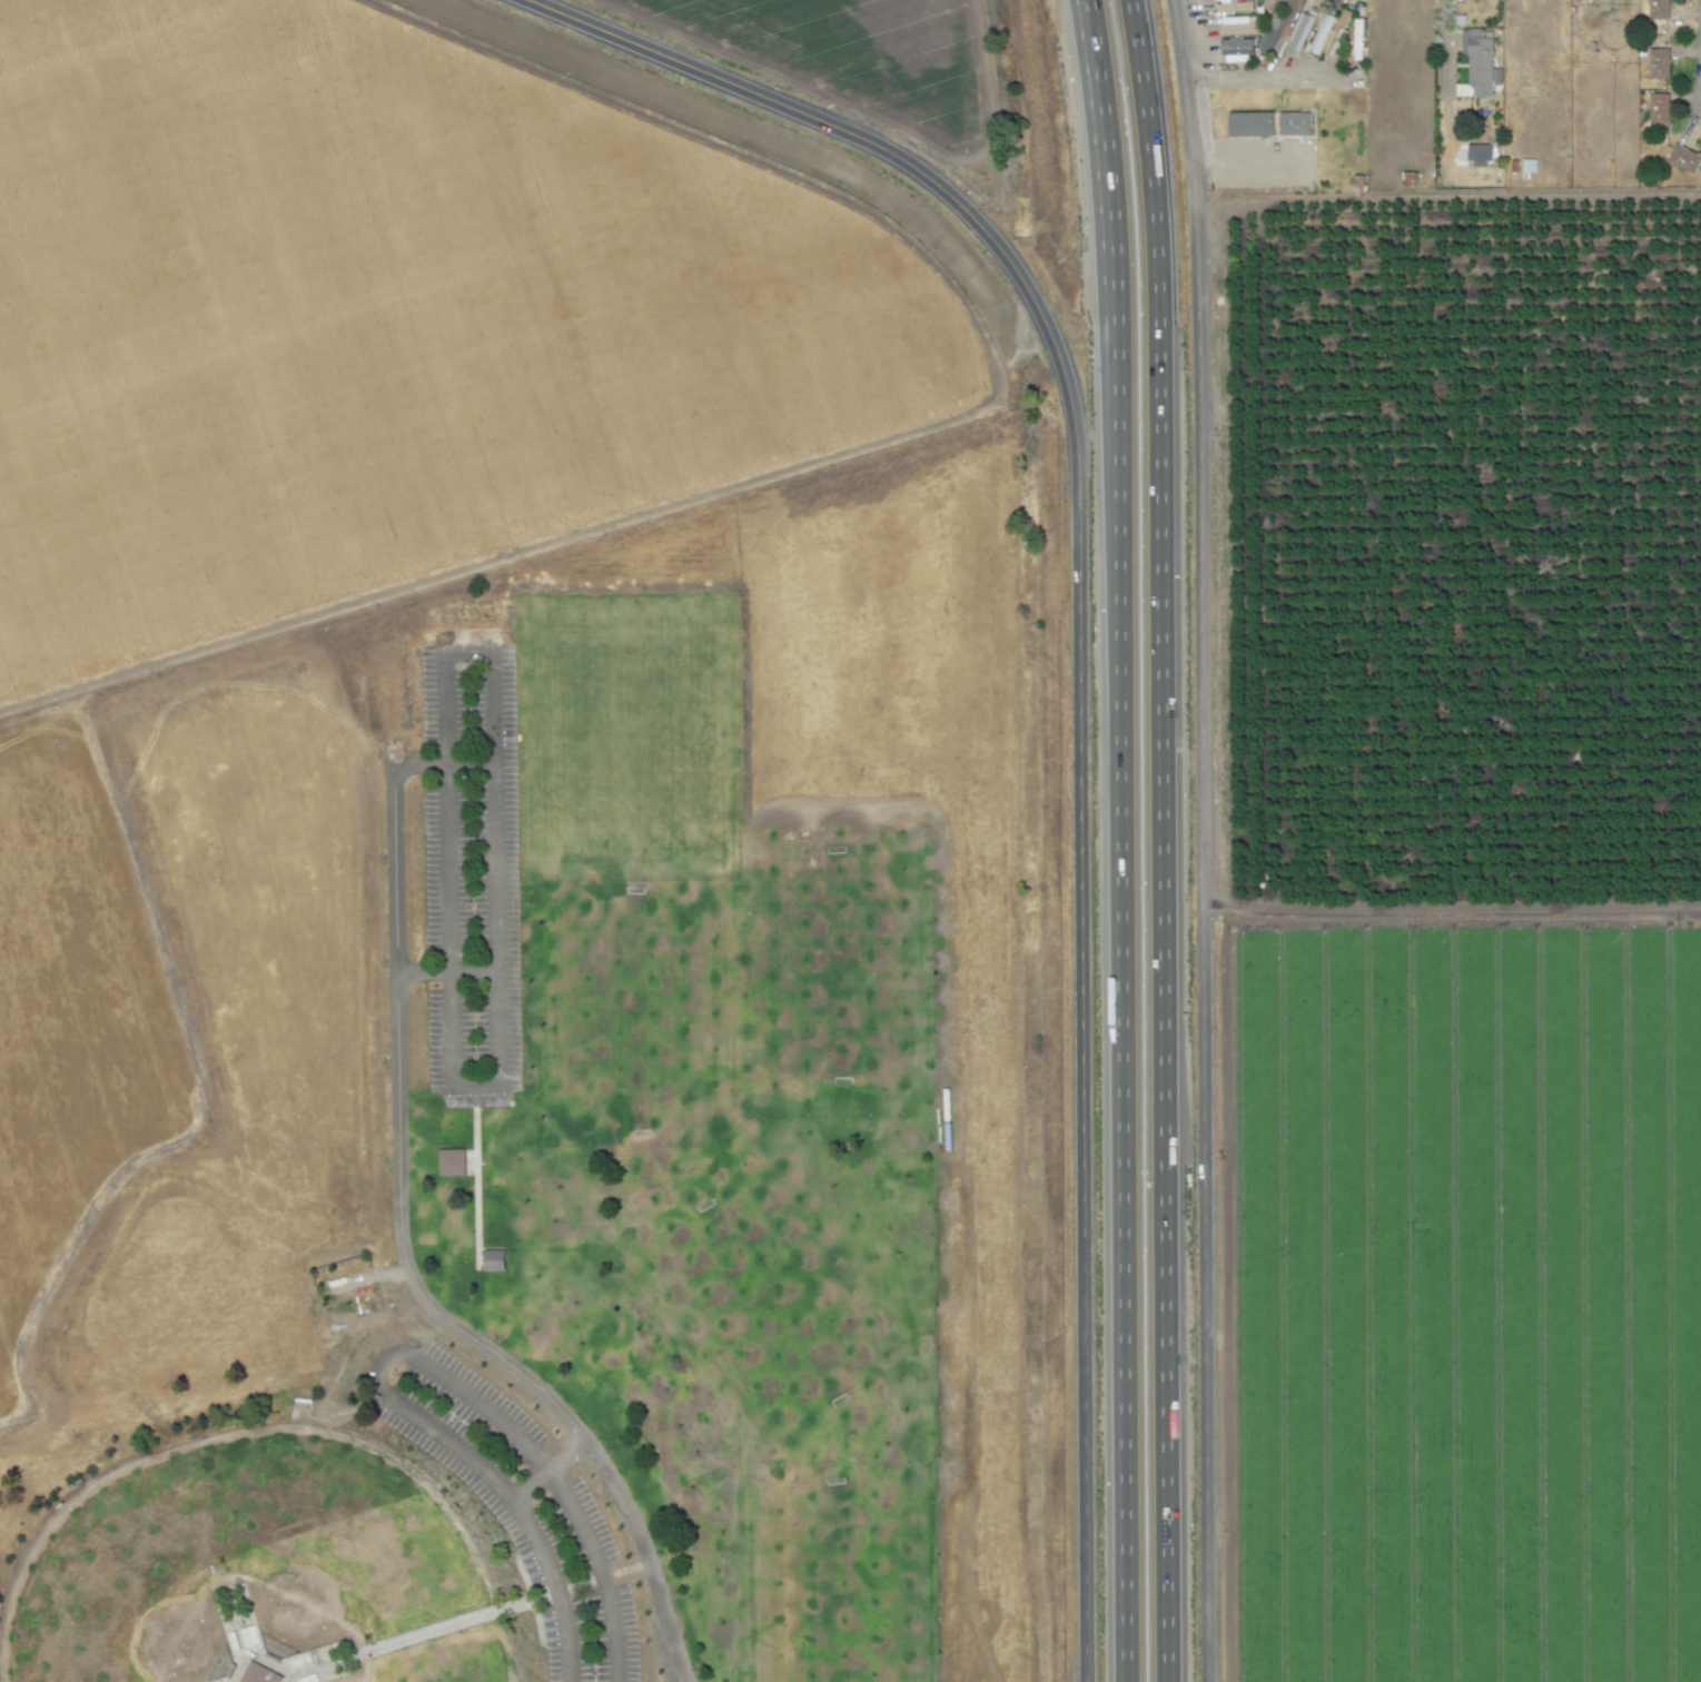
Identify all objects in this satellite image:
building: (1601, 0)
building: (1609, 0)
building: (1279, 1)
building: (1234, 7)
building: (1658, 9)
building: (1238, 28)
building: (1287, 30)
building: (1328, 39)
building: (1357, 42)
road: (1441, 42)
building: (1237, 51)
building: (1482, 61)
building: (1658, 62)
road: (1260, 77)
building: (1658, 108)
building: (1485, 113)
building: (1294, 123)
building: (1250, 125)
building: (1480, 156)
road: (884, 159)
building: (1683, 159)
road: (1244, 164)
building: (1527, 166)
road: (1437, 196)
crop: (466, 540)
road: (1118, 840)
road: (1169, 840)
road: (1196, 840)
park: (831, 958)
road: (422, 972)
road: (501, 974)
park: (635, 1009)
road: (1082, 1079)
road: (396, 1116)
building: (452, 1162)
road: (476, 1176)
building: (494, 1259)
park: (771, 1303)
road: (431, 1427)
road: (632, 1515)
park: (339, 1524)
road: (597, 1571)
park: (832, 1582)
park: (102, 1591)
road: (472, 1617)
road: (256, 1656)
park: (466, 1669)
building: (263, 1674)
road: (291, 1678)

